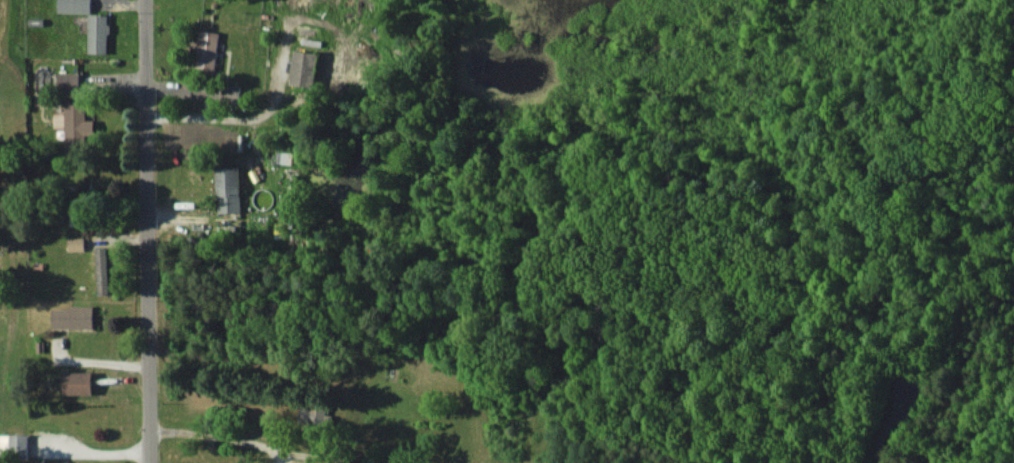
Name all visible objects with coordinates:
building: (74, 6)
building: (97, 33)
building: (207, 49)
building: (303, 68)
building: (69, 81)
building: (231, 94)
road: (251, 116)
building: (74, 125)
building: (228, 189)
building: (76, 220)
road: (145, 231)
building: (75, 243)
building: (101, 270)
building: (72, 317)
building: (77, 382)
building: (314, 417)
road: (214, 437)
building: (13, 444)

